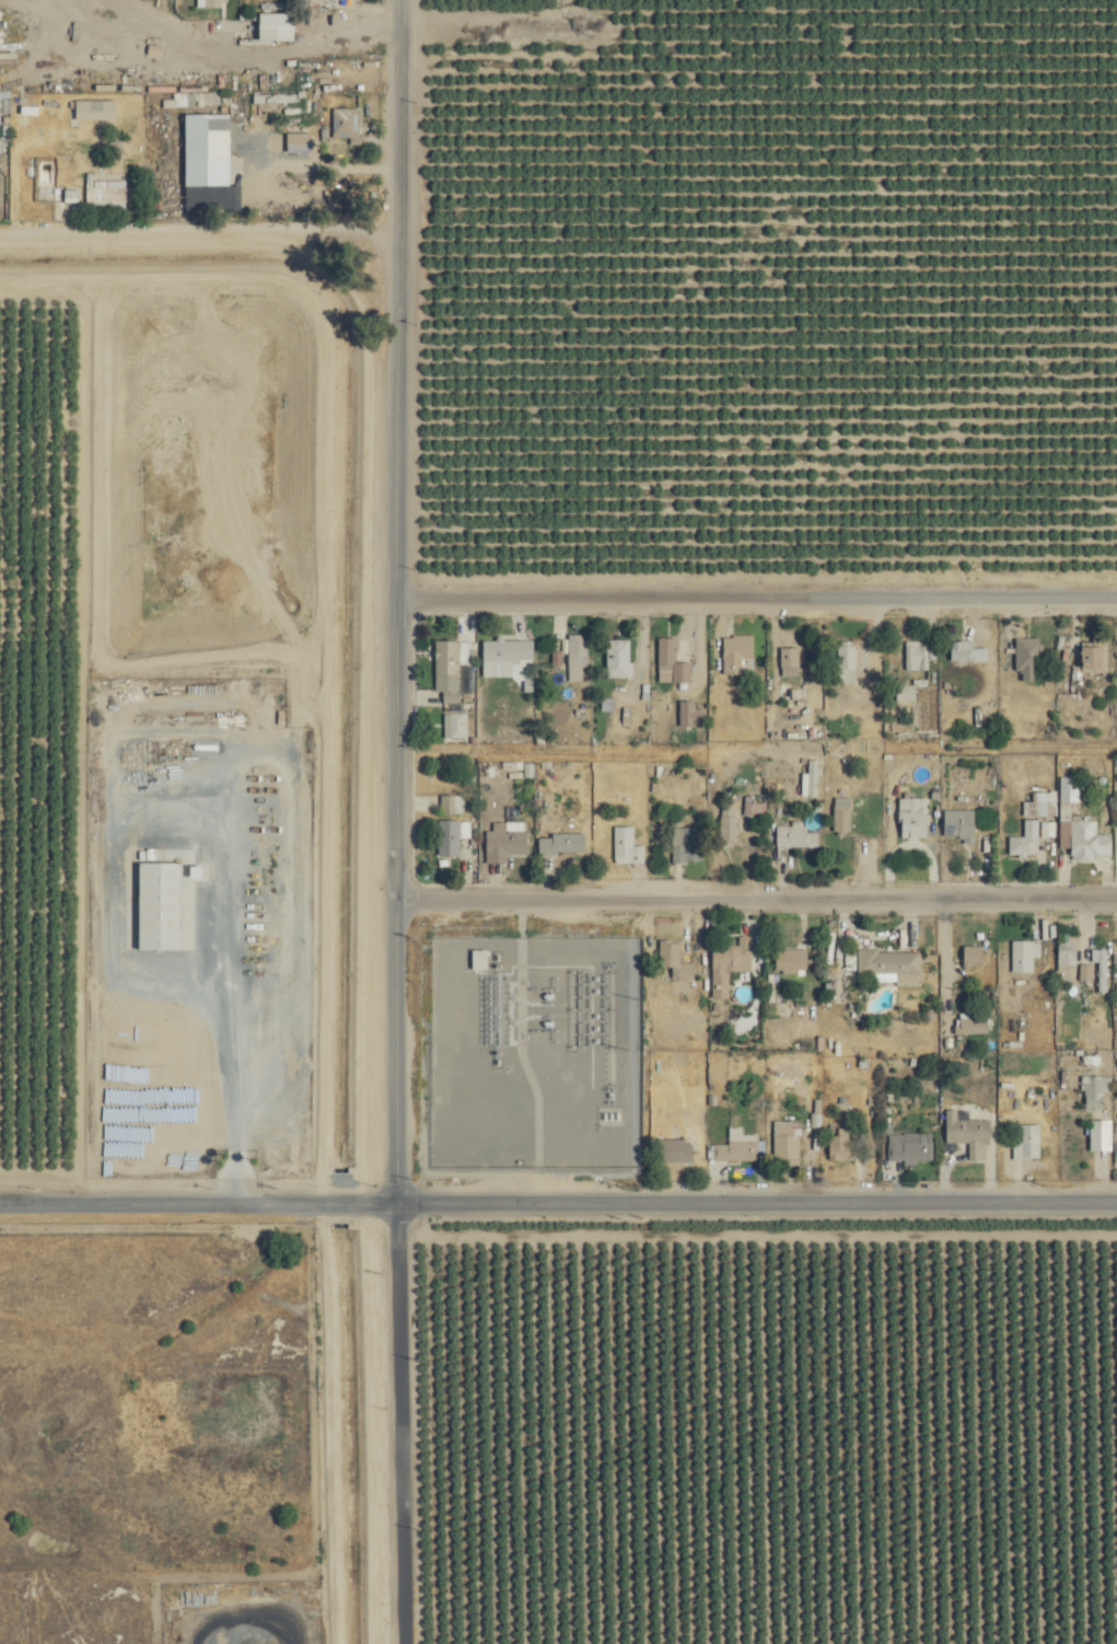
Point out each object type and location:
building: (275, 26)
building: (89, 109)
building: (342, 125)
building: (206, 136)
building: (295, 141)
road: (316, 173)
building: (103, 194)
road: (749, 591)
road: (382, 597)
building: (964, 652)
building: (734, 655)
building: (502, 656)
building: (911, 656)
building: (574, 657)
building: (786, 658)
building: (616, 659)
building: (843, 659)
building: (1024, 659)
building: (1091, 659)
building: (667, 663)
building: (446, 667)
building: (903, 692)
building: (687, 715)
building: (452, 726)
building: (806, 780)
building: (449, 806)
building: (838, 815)
building: (909, 821)
building: (724, 825)
building: (955, 825)
building: (1075, 827)
building: (445, 838)
building: (790, 838)
building: (1023, 840)
building: (558, 844)
building: (501, 846)
building: (623, 846)
building: (683, 846)
road: (748, 892)
building: (160, 906)
building: (732, 953)
building: (967, 956)
building: (1020, 956)
building: (671, 961)
building: (788, 961)
building: (884, 963)
building: (1062, 963)
building: (1093, 971)
building: (717, 987)
building: (968, 1026)
building: (1093, 1092)
building: (964, 1134)
building: (1096, 1135)
building: (781, 1143)
building: (1023, 1143)
building: (837, 1145)
building: (732, 1147)
building: (671, 1150)
building: (904, 1150)
road: (748, 1194)
road: (190, 1195)
road: (392, 1420)

